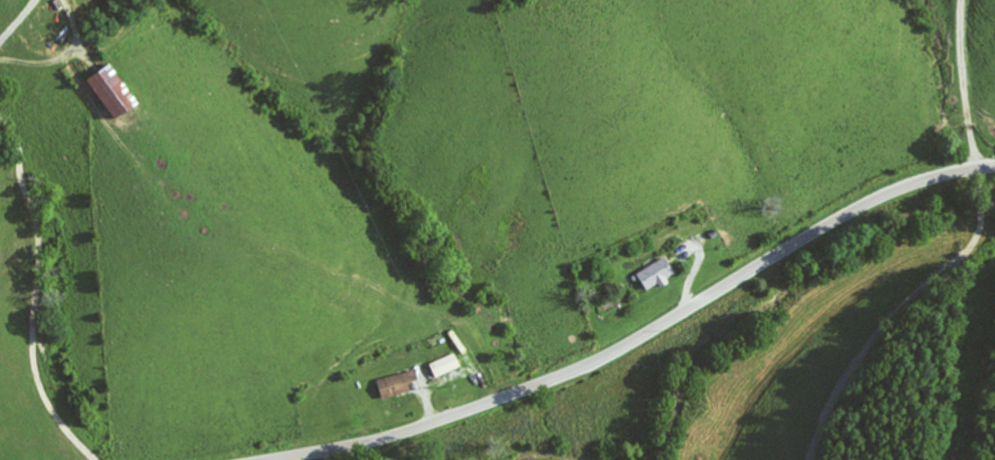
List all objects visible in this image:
building: (109, 89)
road: (959, 250)
building: (654, 273)
road: (641, 335)
building: (393, 386)

